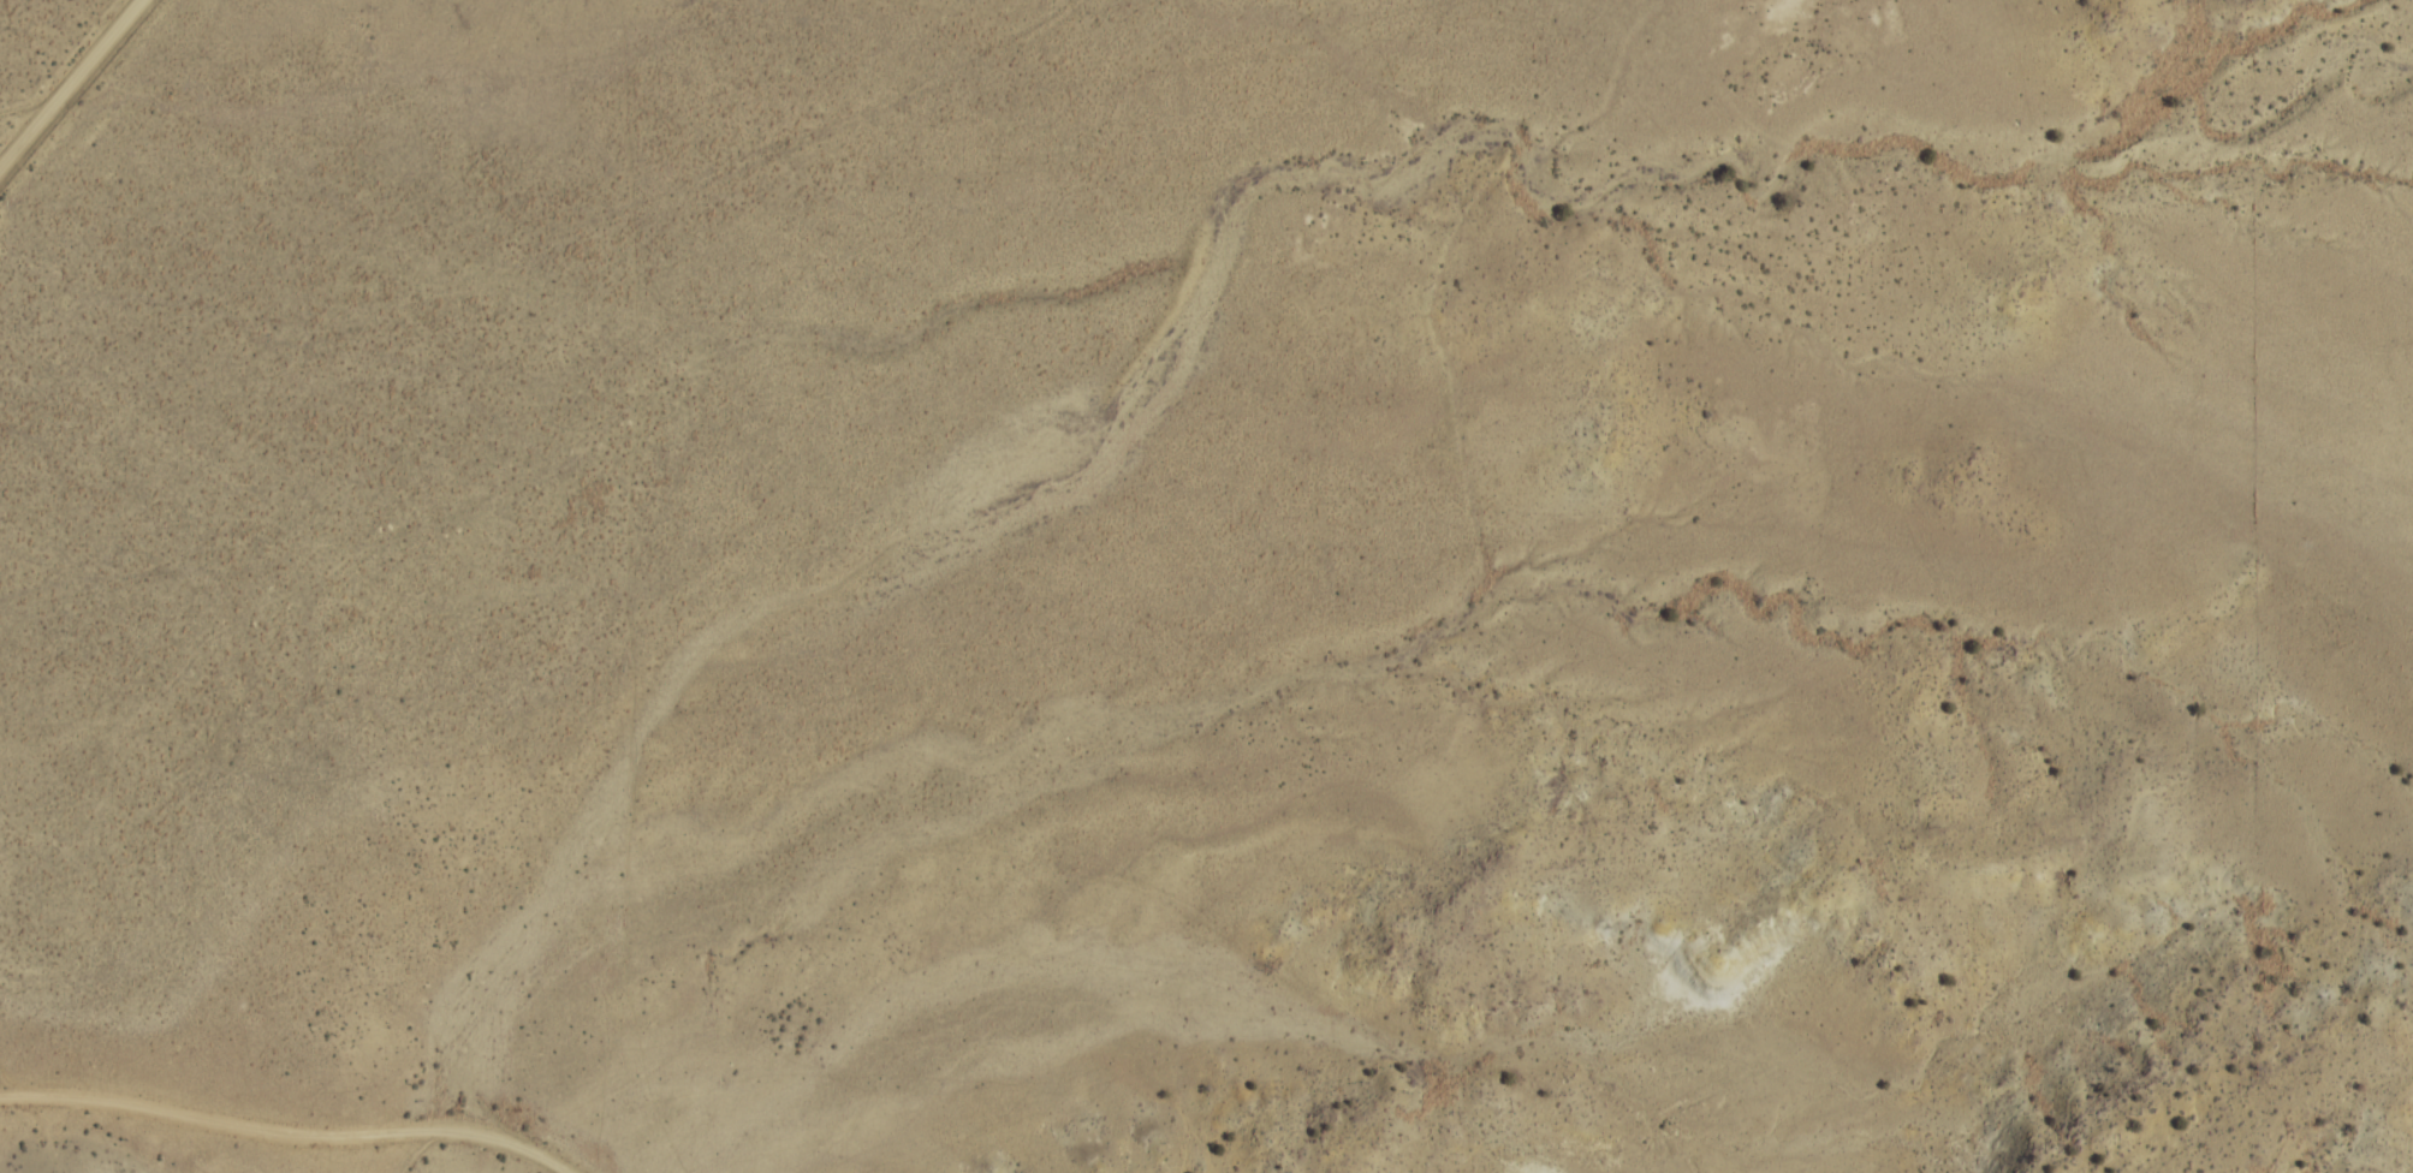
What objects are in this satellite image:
road: (69, 82)
road: (296, 1131)

